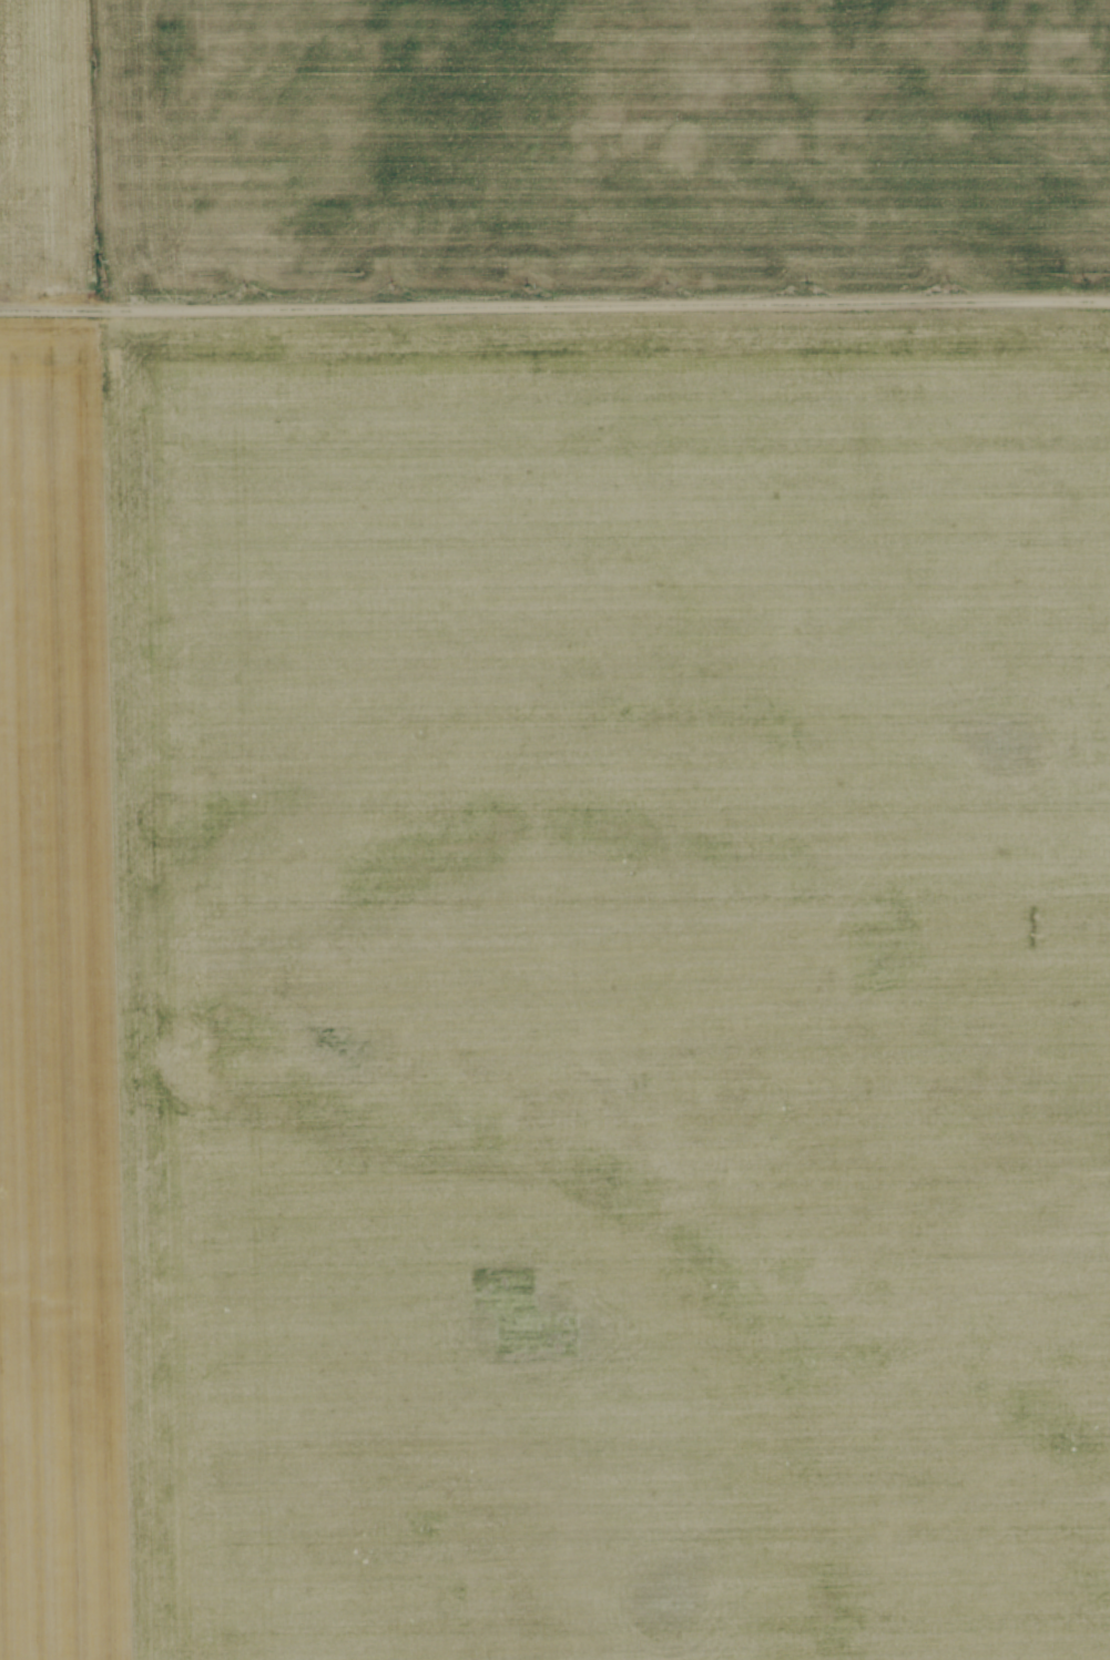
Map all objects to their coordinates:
crop: (592, 149)
road: (554, 308)
crop: (554, 986)

